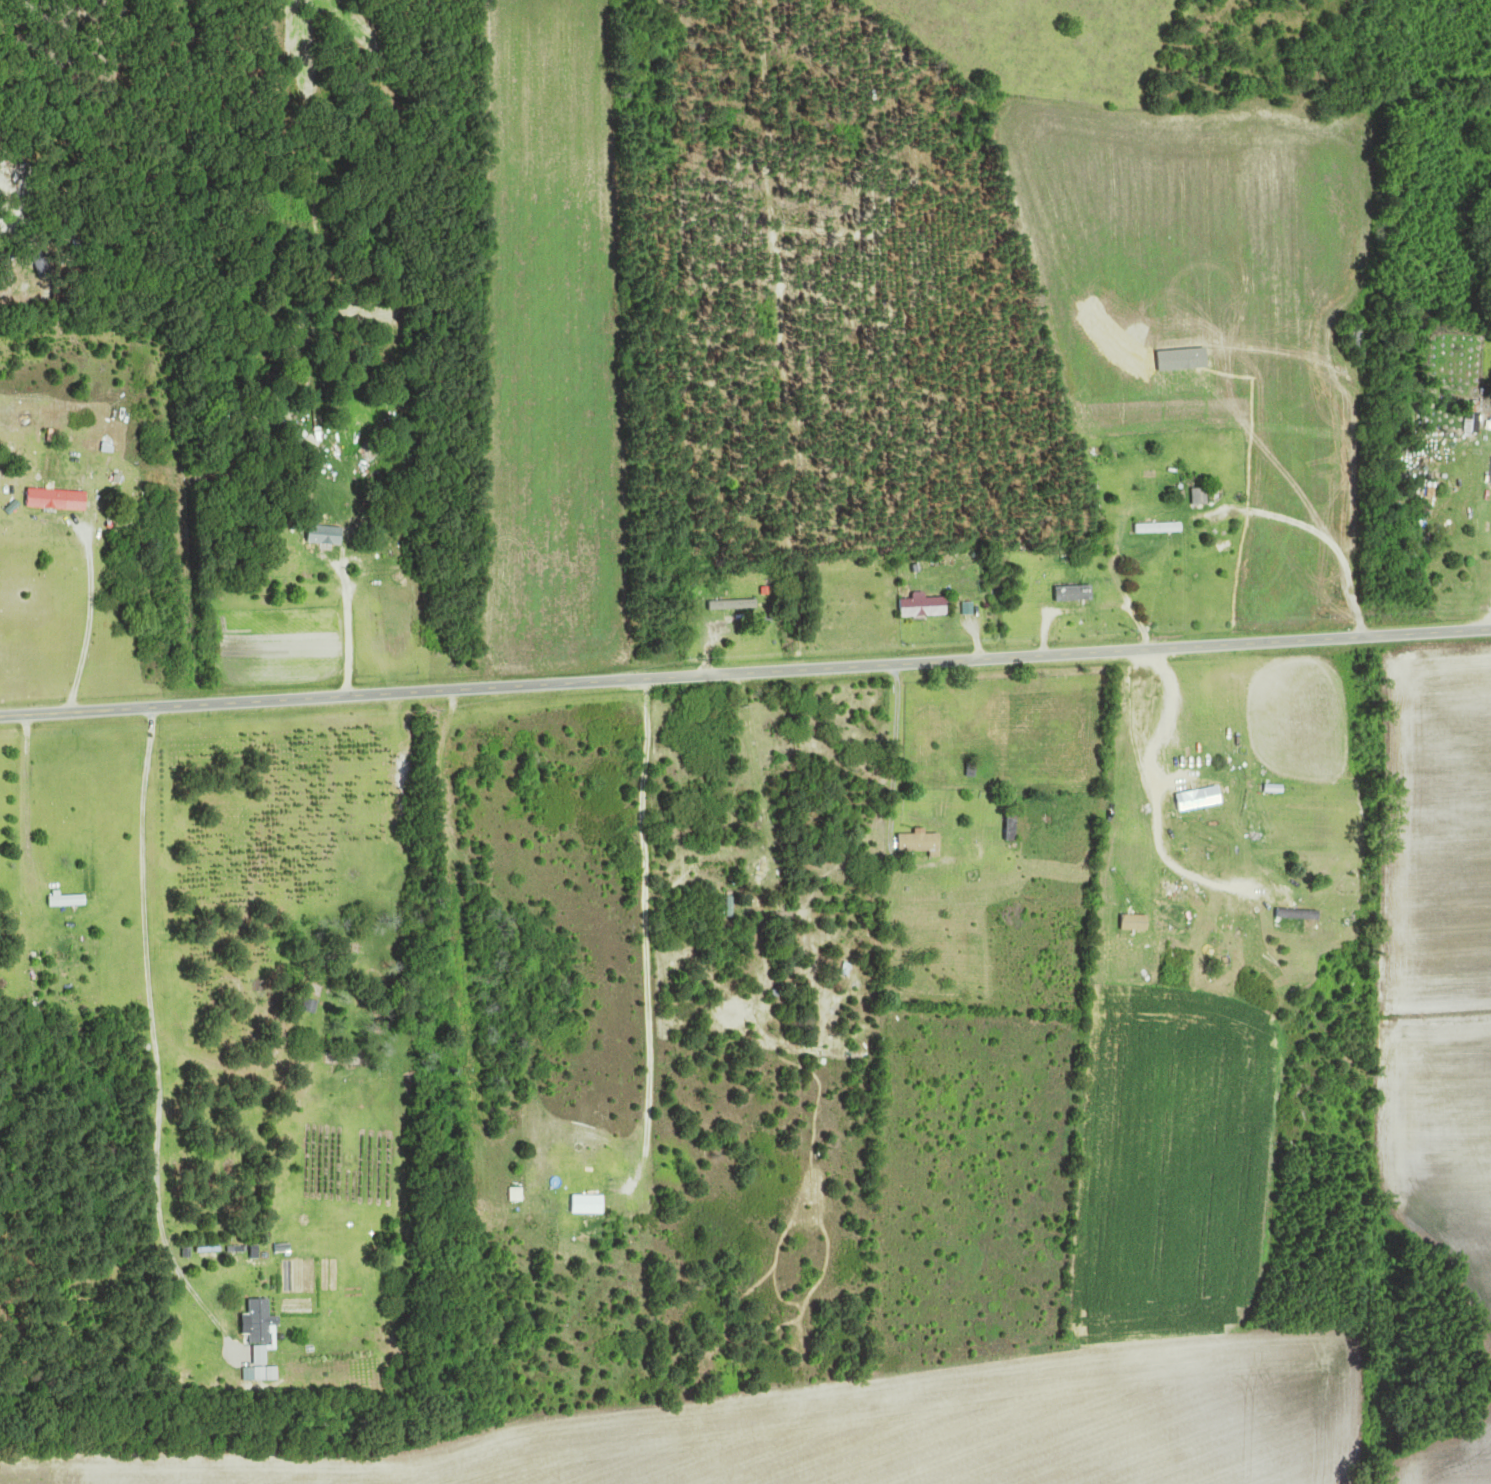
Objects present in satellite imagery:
building: (1358, 338)
building: (1209, 496)
building: (59, 499)
building: (1162, 528)
building: (327, 533)
building: (1079, 594)
building: (928, 607)
road: (89, 621)
road: (745, 670)
road: (1153, 791)
building: (1203, 799)
building: (924, 842)
building: (721, 868)
building: (1176, 888)
building: (71, 901)
building: (1301, 914)
building: (1216, 941)
building: (1234, 941)
road: (155, 1039)
building: (347, 1060)
road: (601, 1136)
building: (591, 1205)

